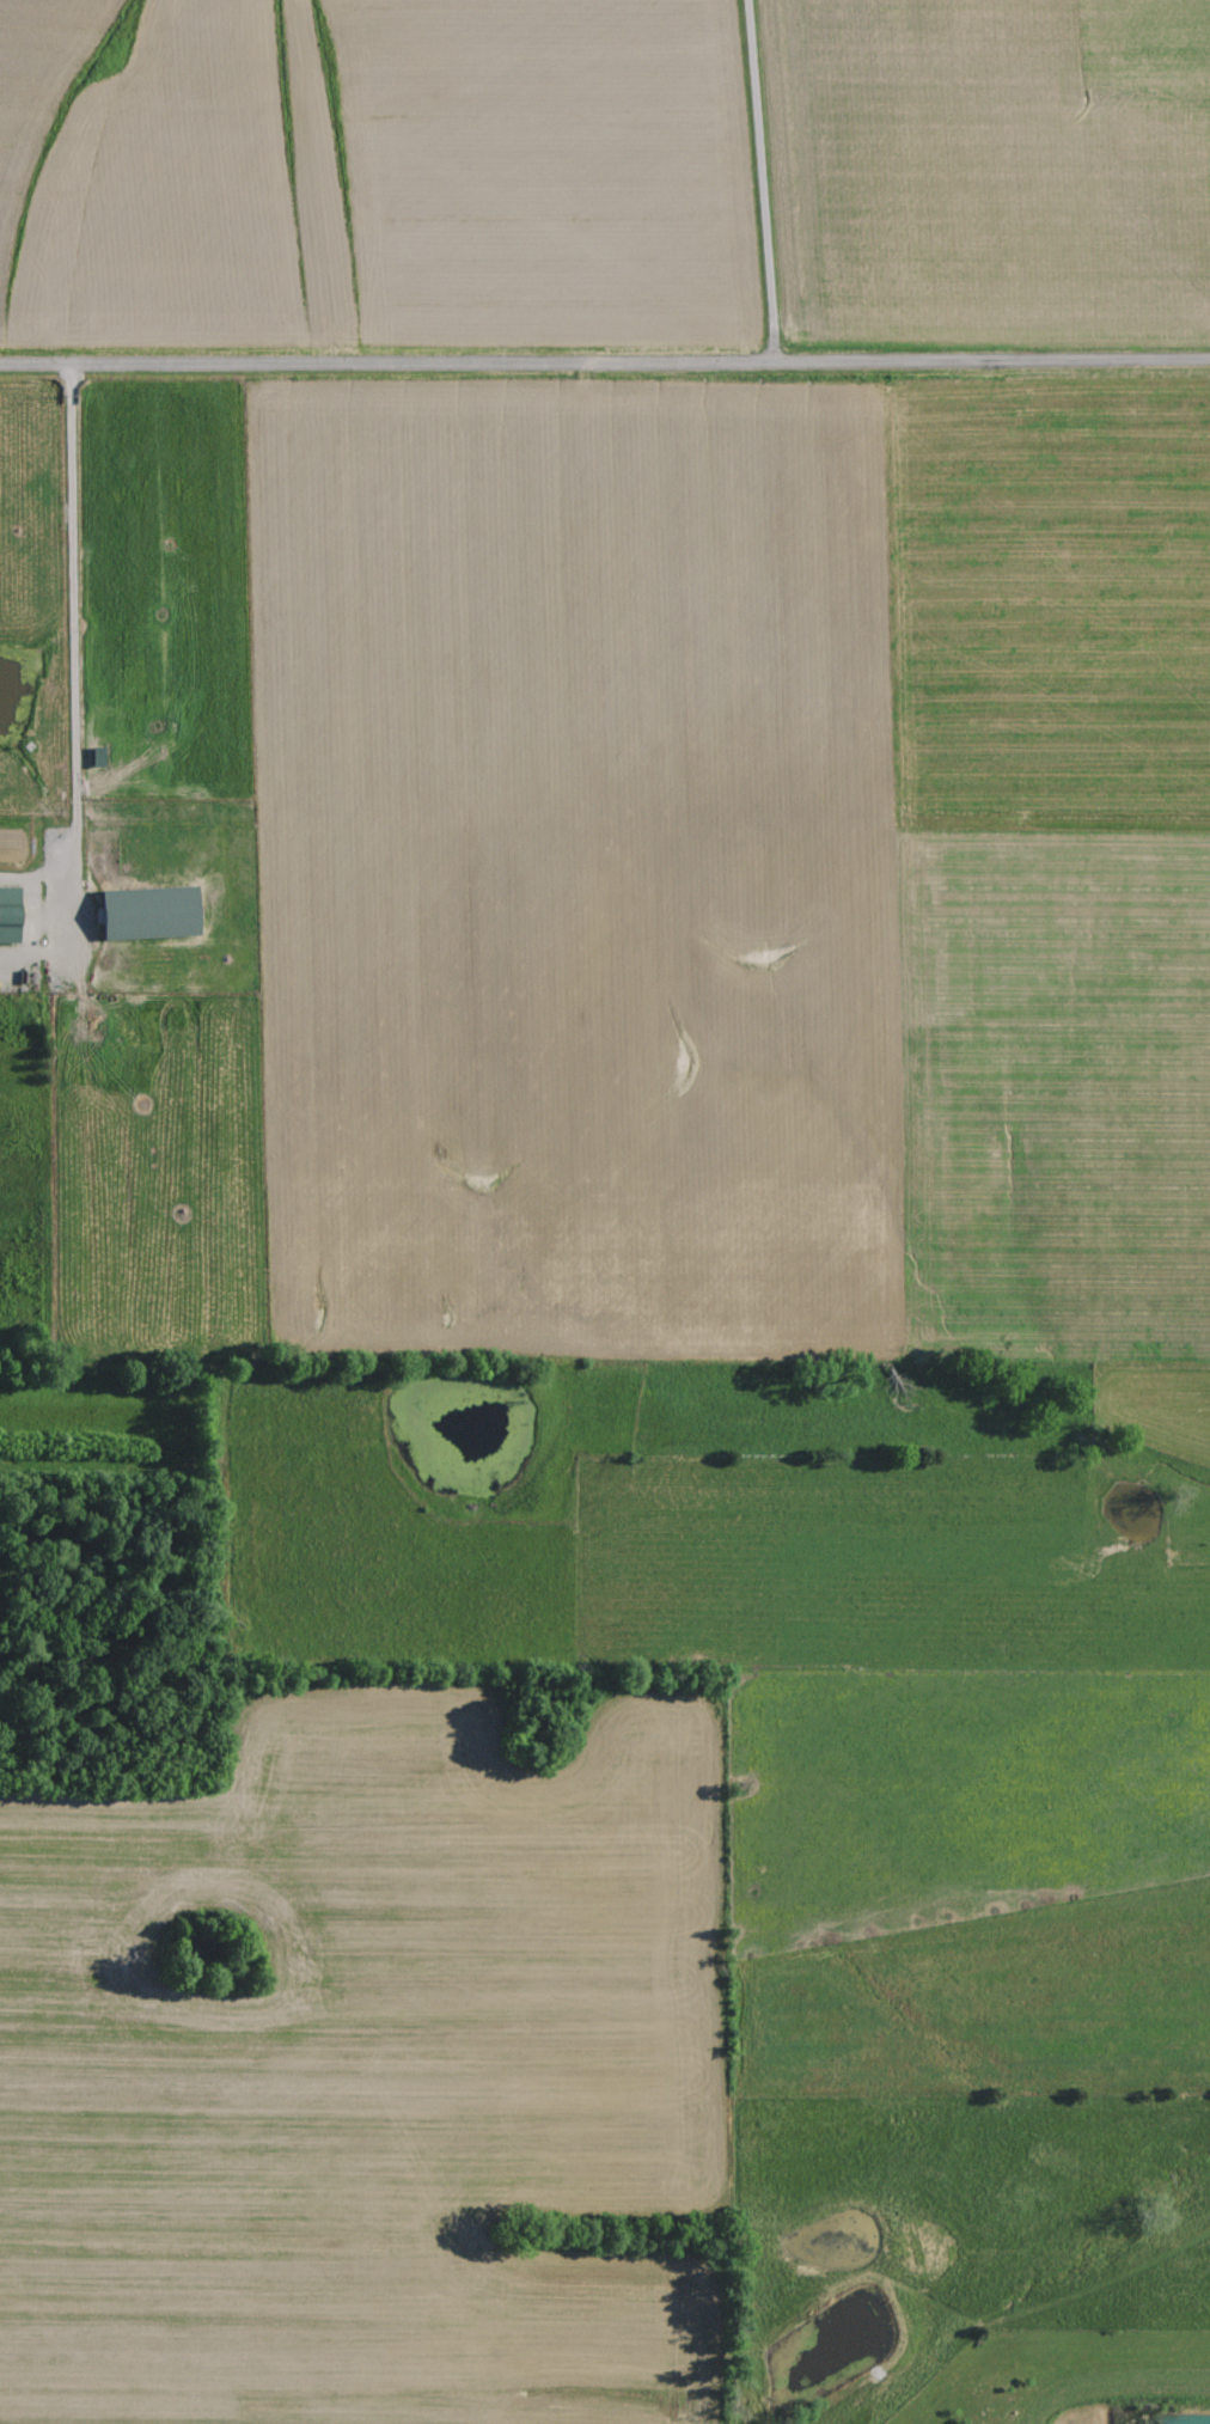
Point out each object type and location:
crop: (990, 171)
crop: (543, 172)
road: (758, 182)
road: (604, 365)
crop: (576, 782)
building: (148, 912)
building: (8, 915)
crop: (591, 1271)
crop: (365, 2075)

